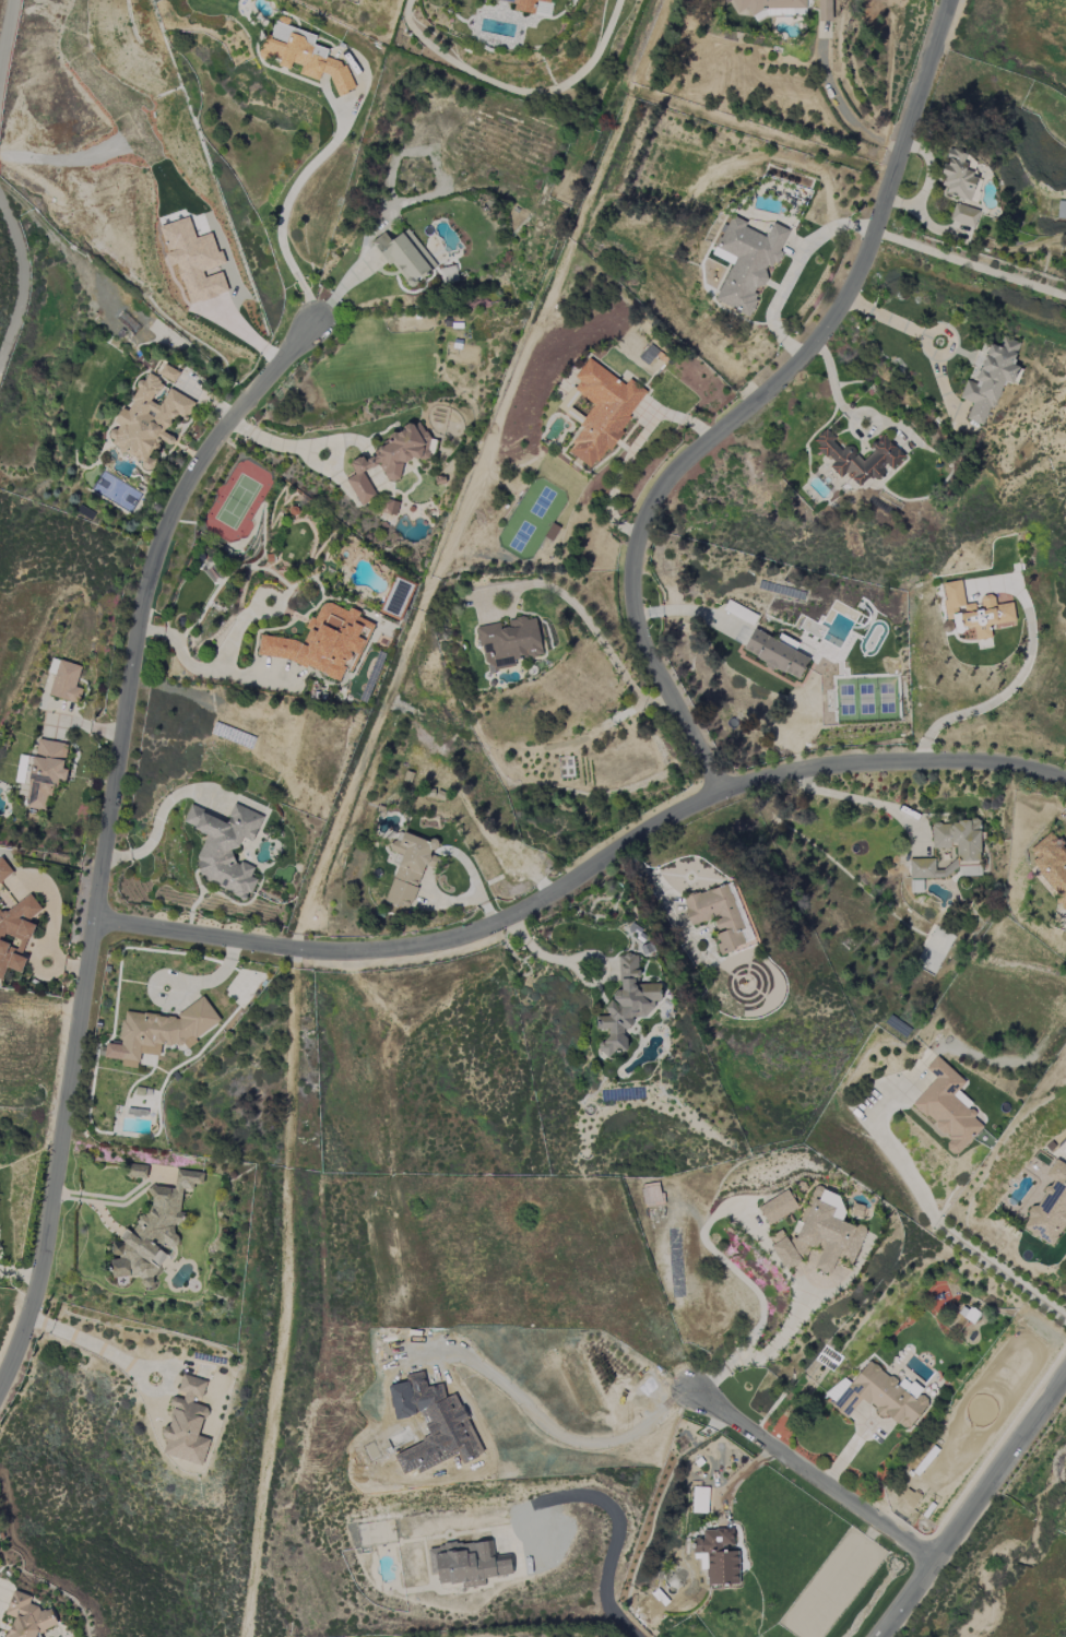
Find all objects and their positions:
building: (525, 4)
building: (770, 7)
building: (825, 10)
road: (7, 43)
building: (304, 56)
building: (958, 176)
building: (1062, 210)
building: (964, 215)
building: (405, 257)
building: (193, 260)
building: (747, 261)
road: (972, 264)
road: (21, 287)
building: (168, 373)
building: (991, 378)
road: (754, 404)
building: (602, 412)
building: (147, 420)
building: (389, 459)
building: (883, 459)
road: (688, 612)
building: (975, 613)
building: (323, 642)
building: (509, 642)
building: (775, 652)
building: (66, 681)
road: (1010, 691)
building: (45, 772)
road: (860, 799)
building: (958, 839)
road: (107, 841)
building: (224, 847)
building: (1052, 865)
building: (923, 868)
building: (407, 869)
building: (4, 870)
road: (587, 879)
building: (719, 915)
building: (15, 934)
building: (626, 1005)
building: (159, 1032)
building: (948, 1106)
building: (137, 1112)
building: (778, 1207)
building: (1050, 1208)
road: (926, 1211)
building: (152, 1231)
building: (820, 1234)
road: (93, 1344)
building: (879, 1396)
building: (187, 1423)
road: (558, 1427)
road: (818, 1479)
building: (700, 1499)
road: (972, 1506)
road: (616, 1528)
building: (718, 1556)
building: (467, 1563)
road: (1, 1587)
building: (26, 1616)

